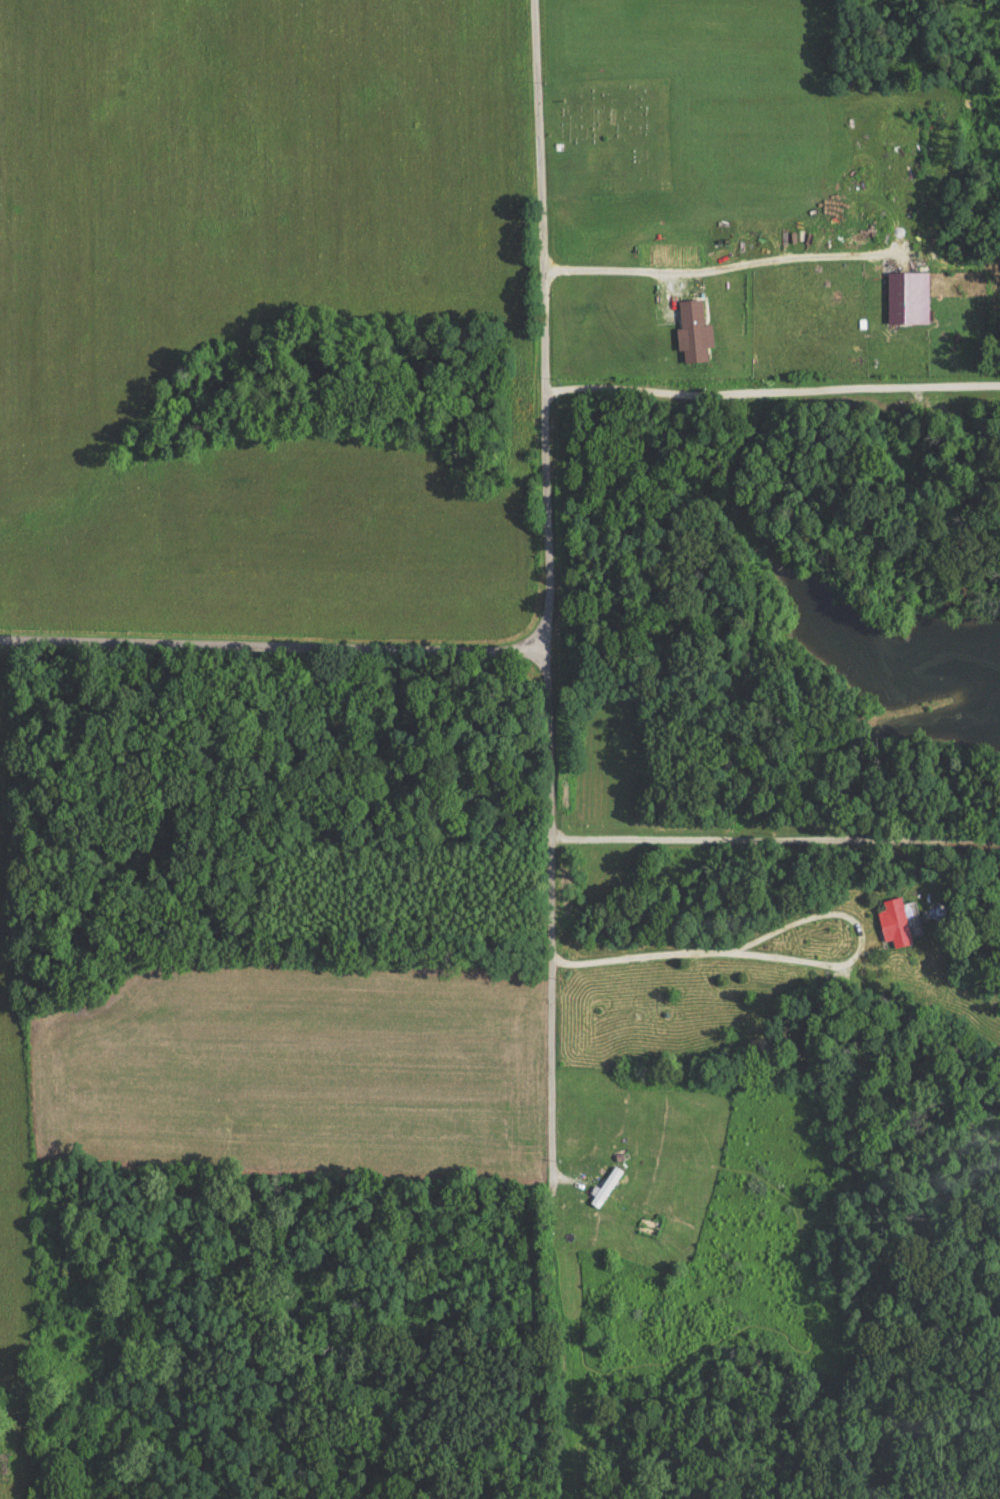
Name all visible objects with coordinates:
road: (718, 272)
building: (907, 303)
building: (693, 337)
road: (547, 585)
road: (201, 641)
road: (474, 648)
road: (774, 839)
building: (894, 927)
road: (671, 991)
building: (604, 1192)

